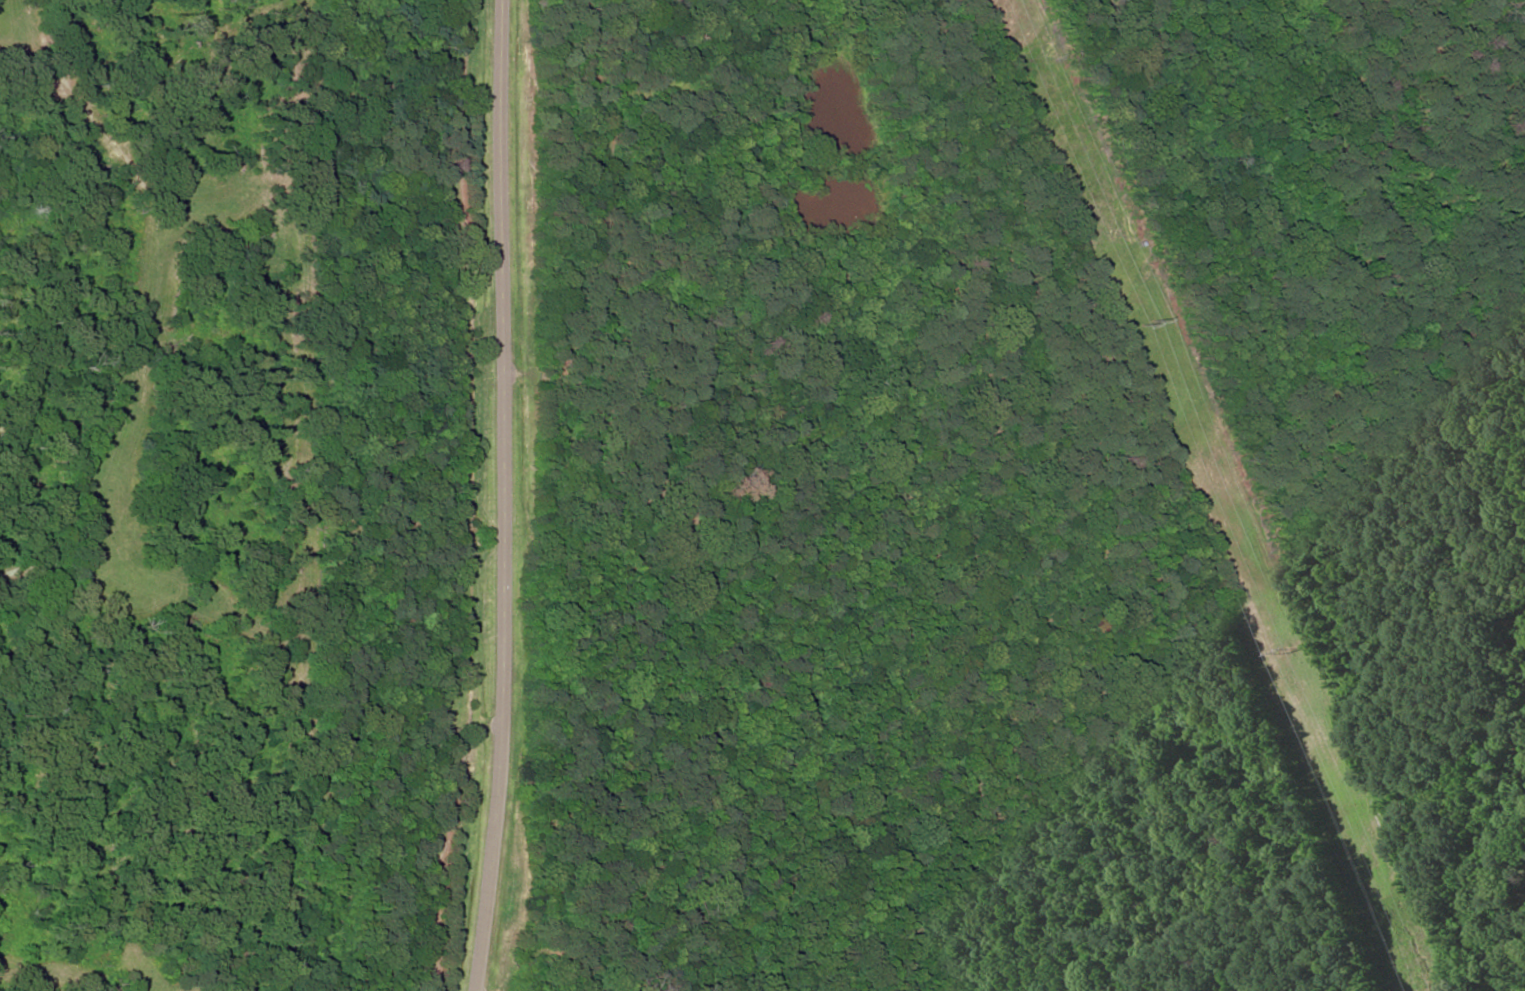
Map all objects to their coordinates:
power tower: (1143, 323)
road: (497, 495)
power tower: (1283, 651)

